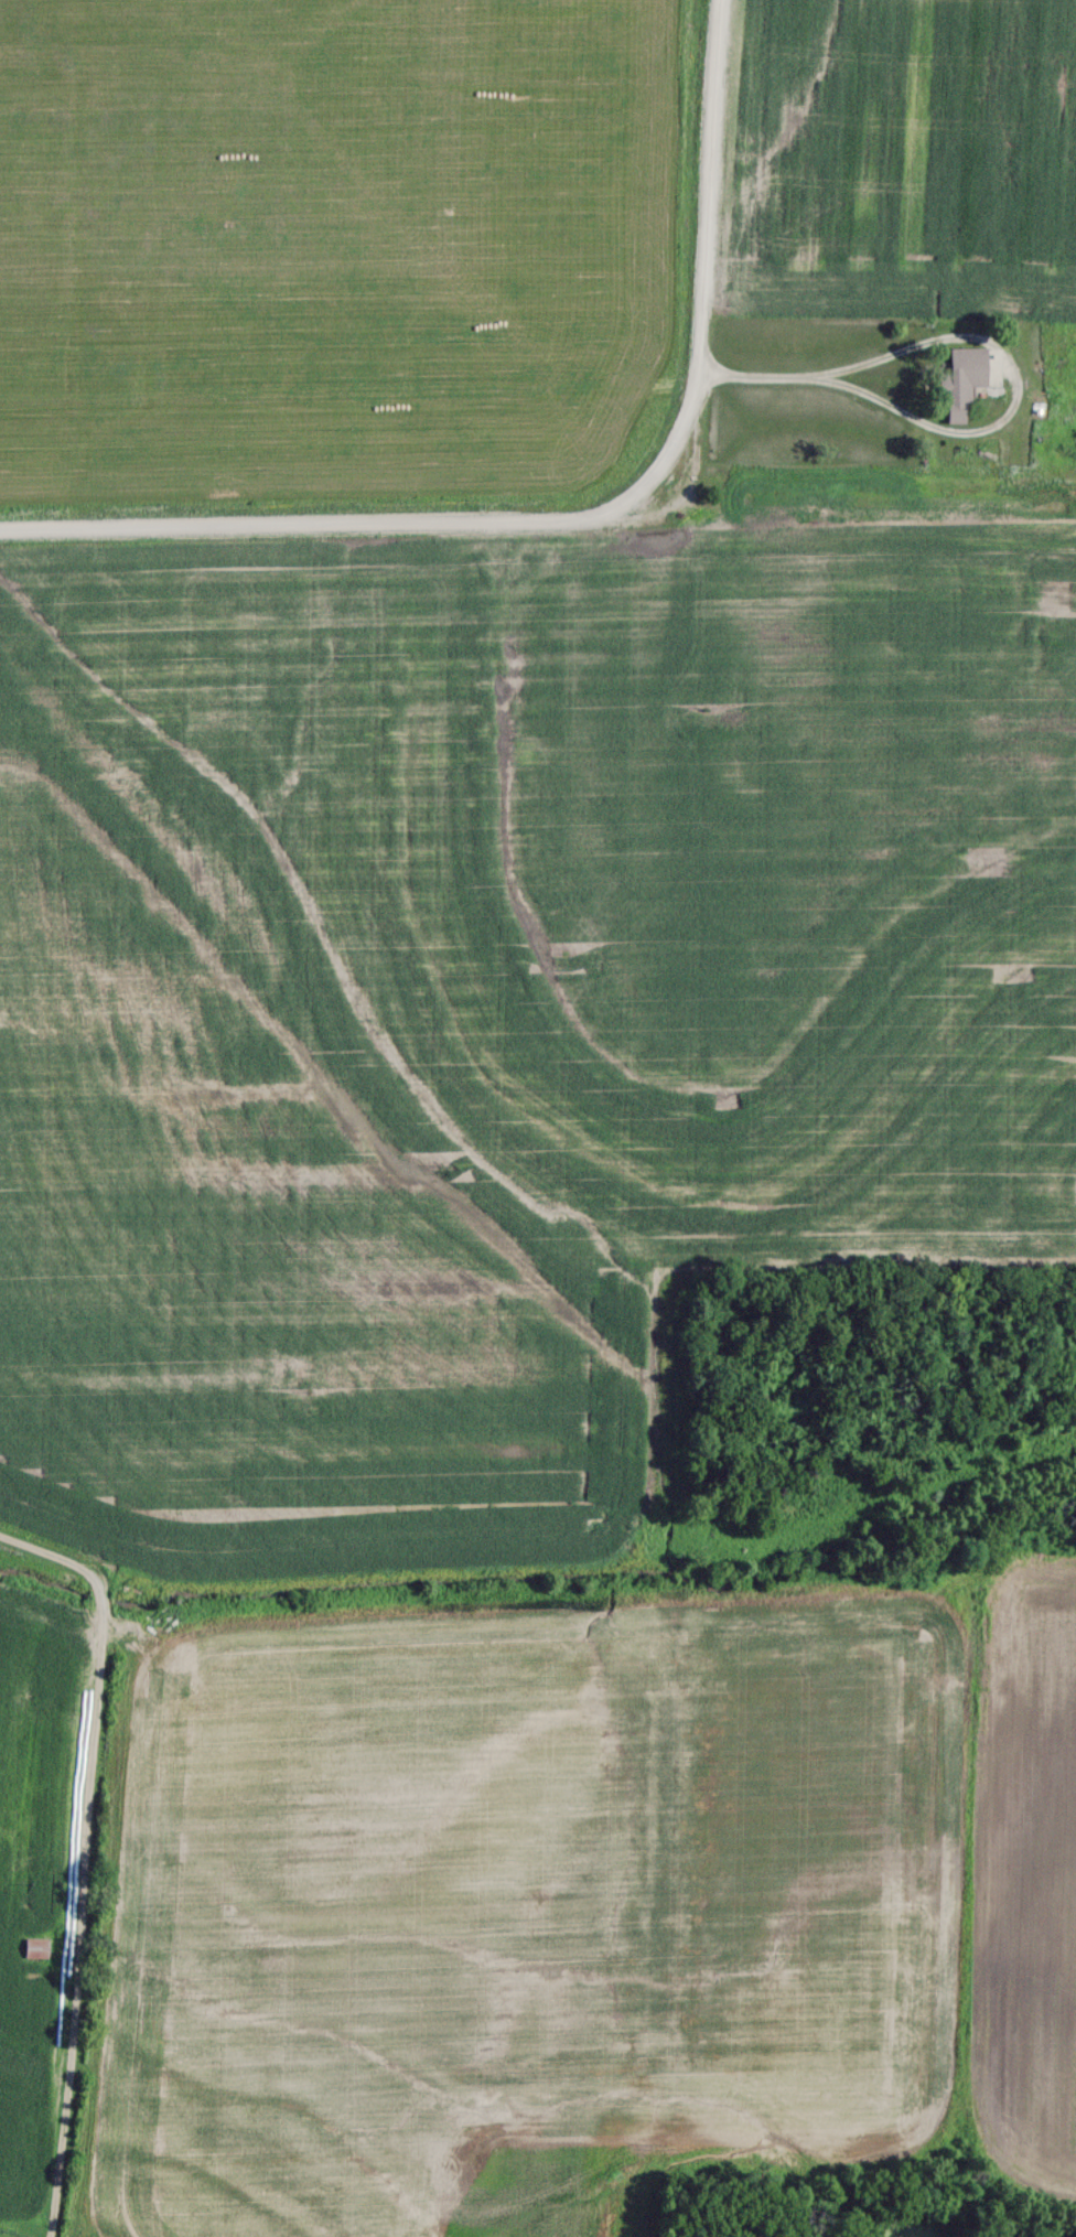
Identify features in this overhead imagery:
building: (960, 378)
road: (975, 435)
road: (579, 524)
road: (78, 1859)
building: (33, 1949)

